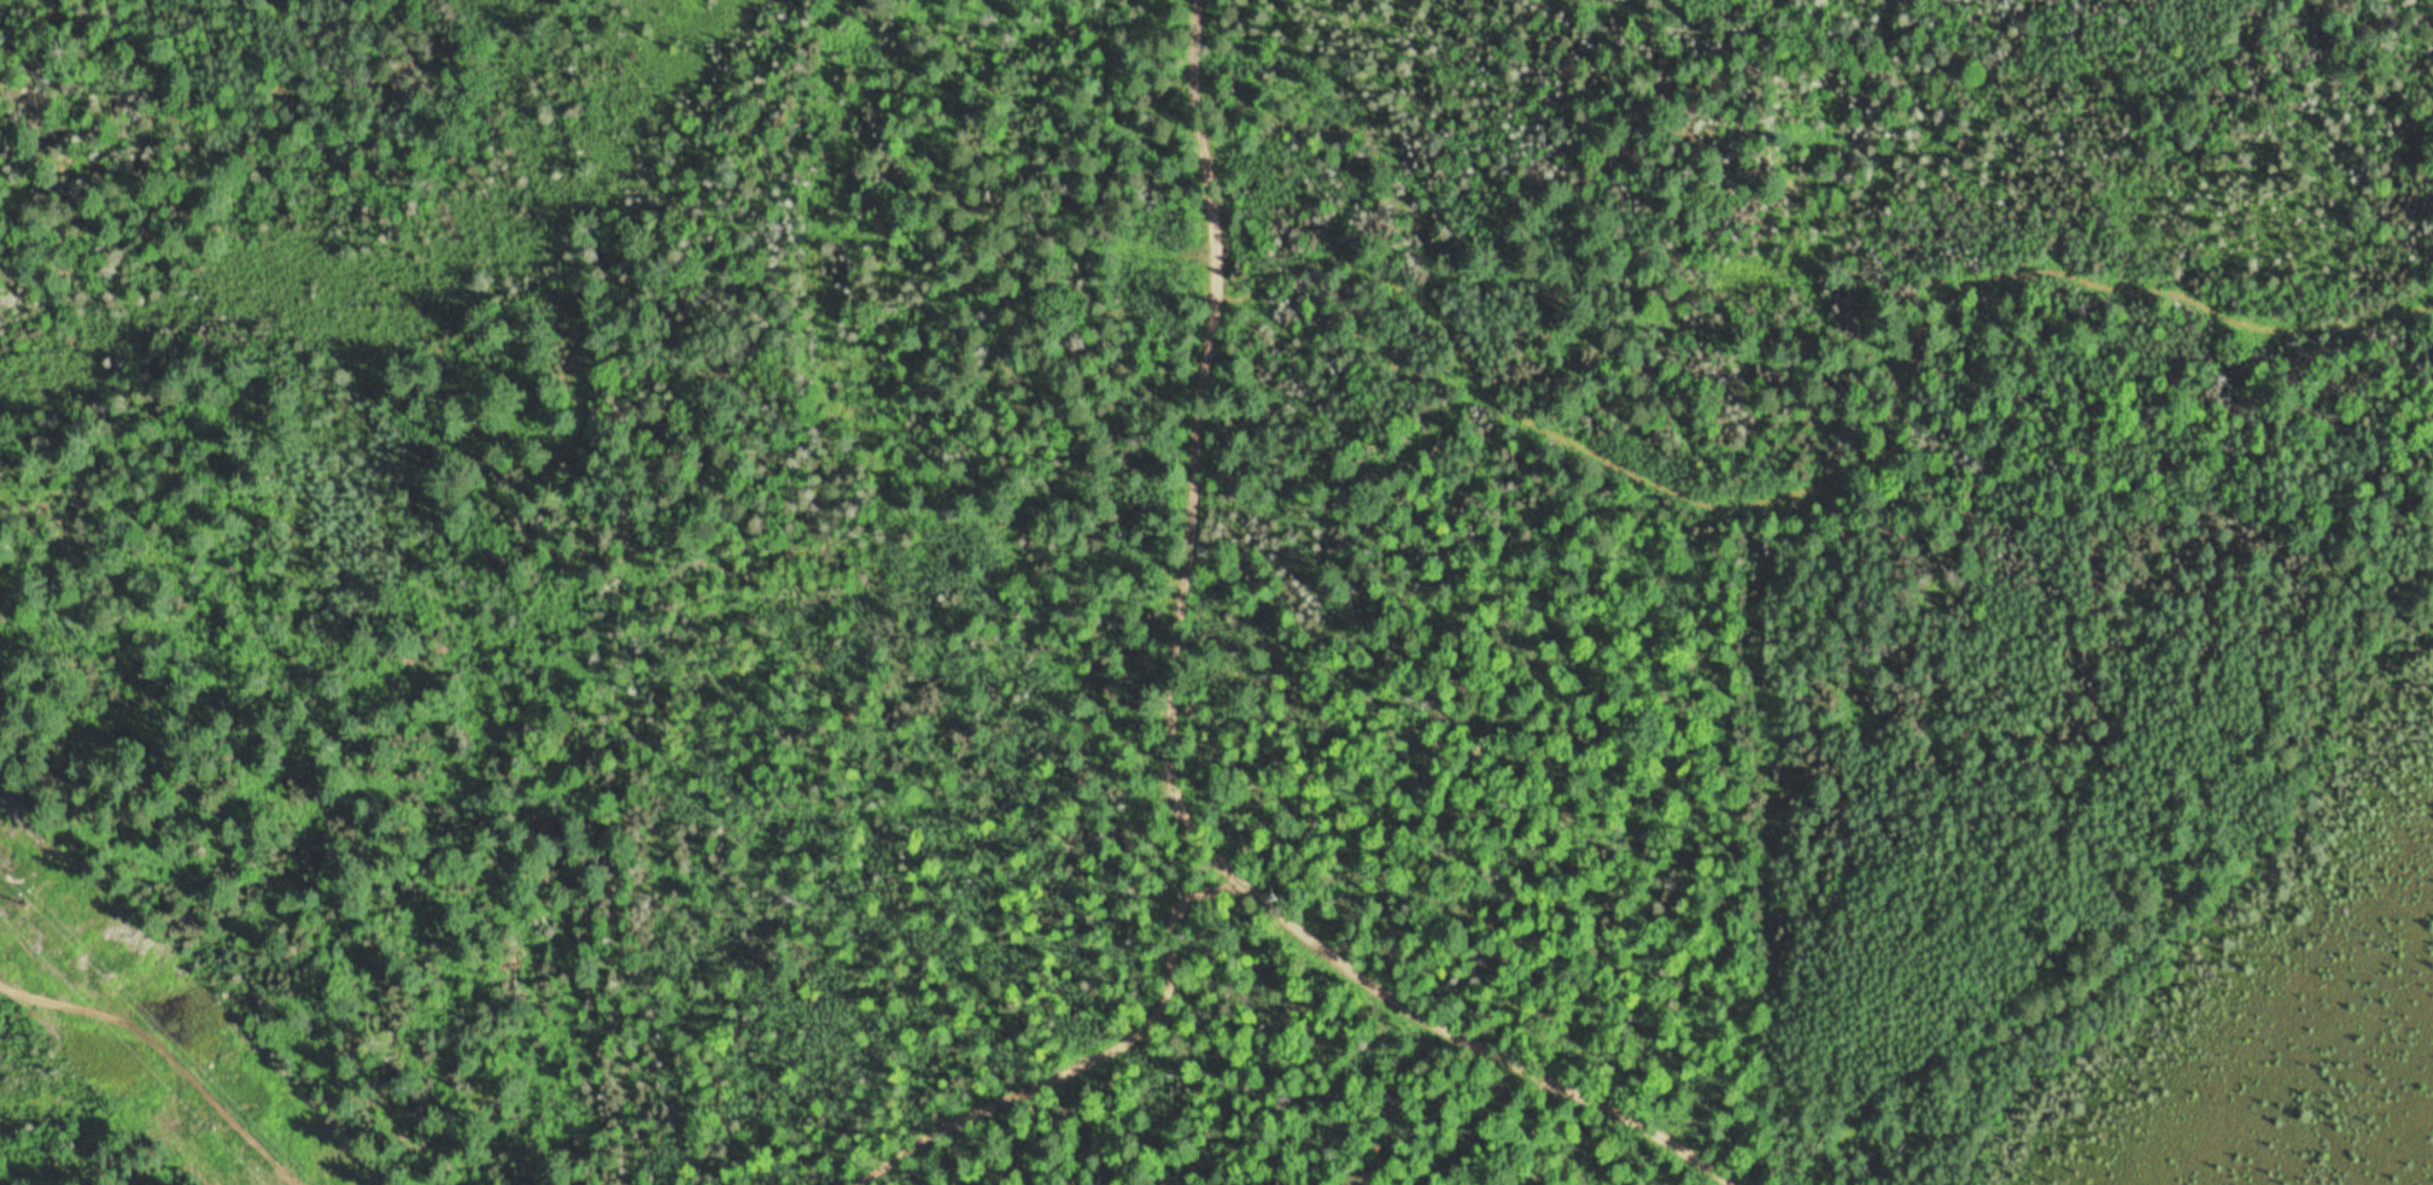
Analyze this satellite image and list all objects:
road: (1181, 739)
power tower: (30, 902)
road: (179, 996)
road: (1133, 1042)

